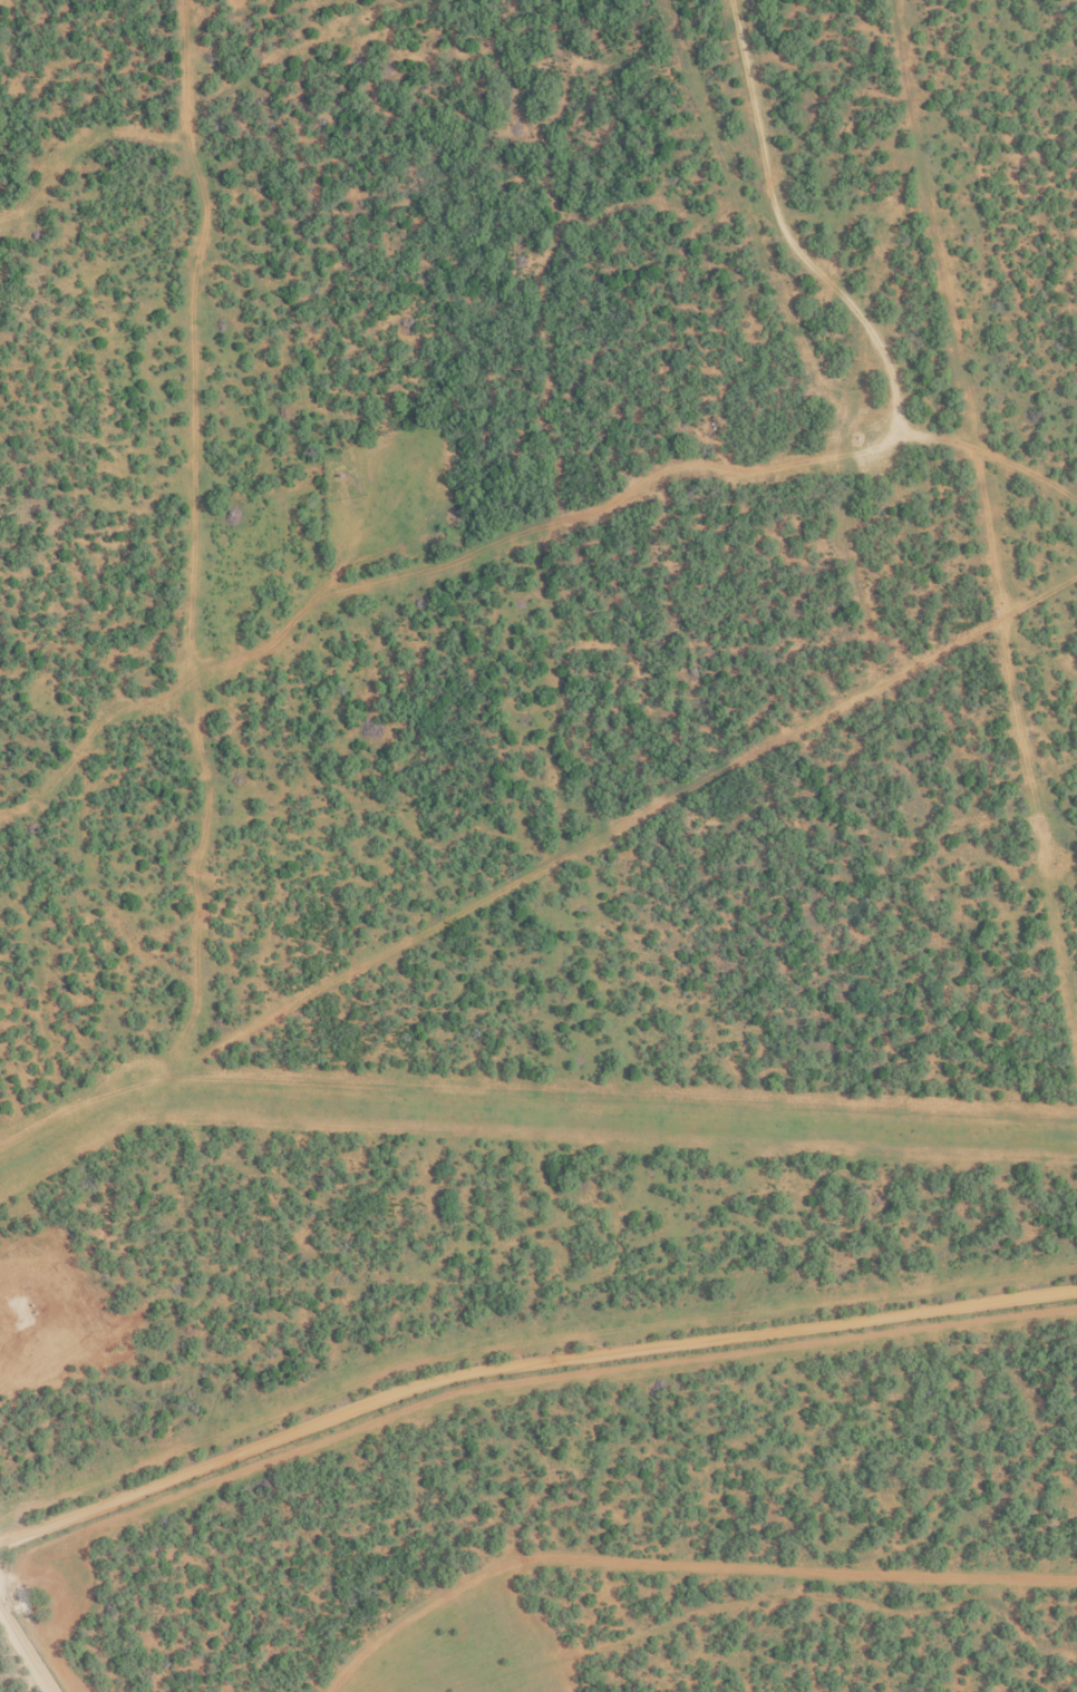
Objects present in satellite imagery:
road: (796, 246)
building: (841, 424)
road: (525, 1364)
road: (27, 1650)

